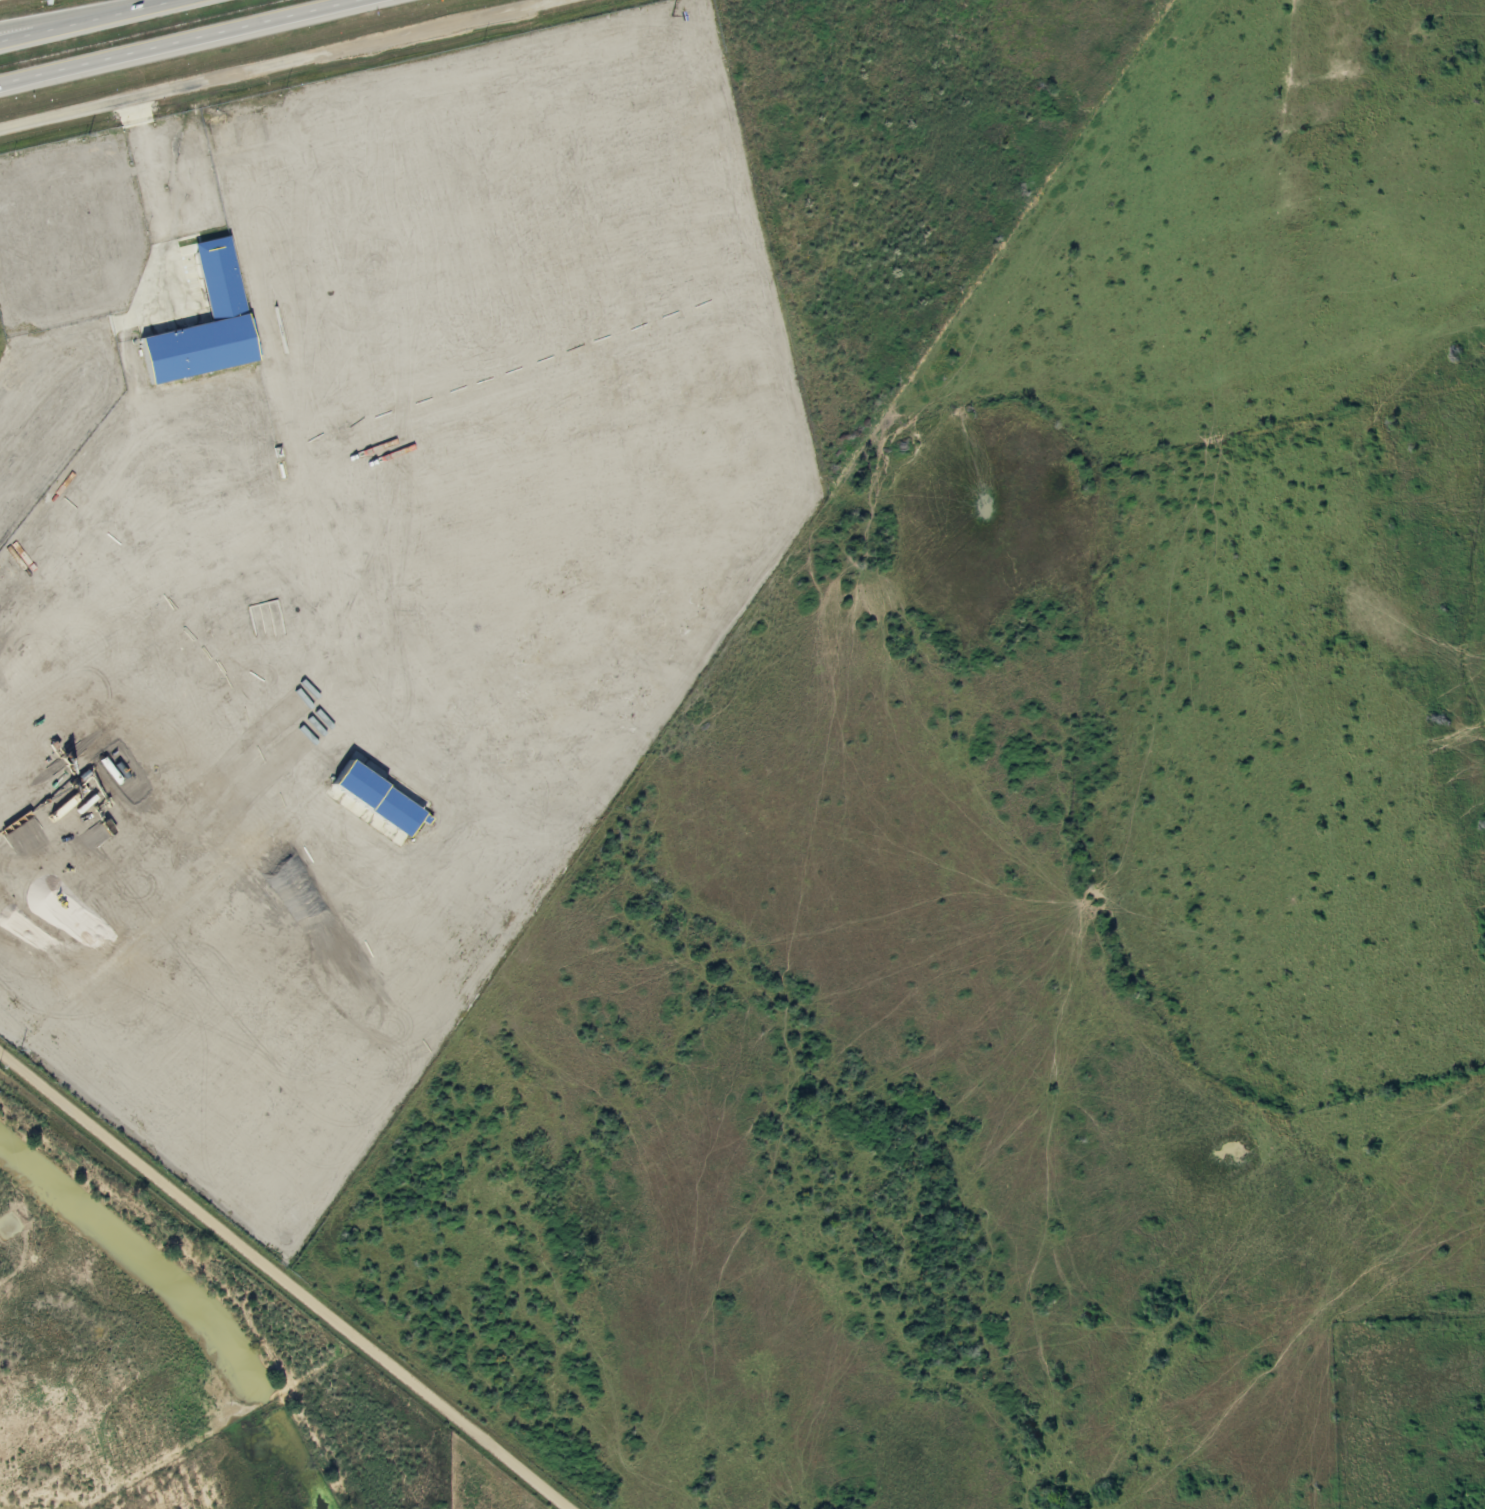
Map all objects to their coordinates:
road: (89, 20)
road: (16, 36)
road: (182, 42)
road: (275, 63)
building: (222, 283)
building: (382, 804)
road: (285, 1279)

